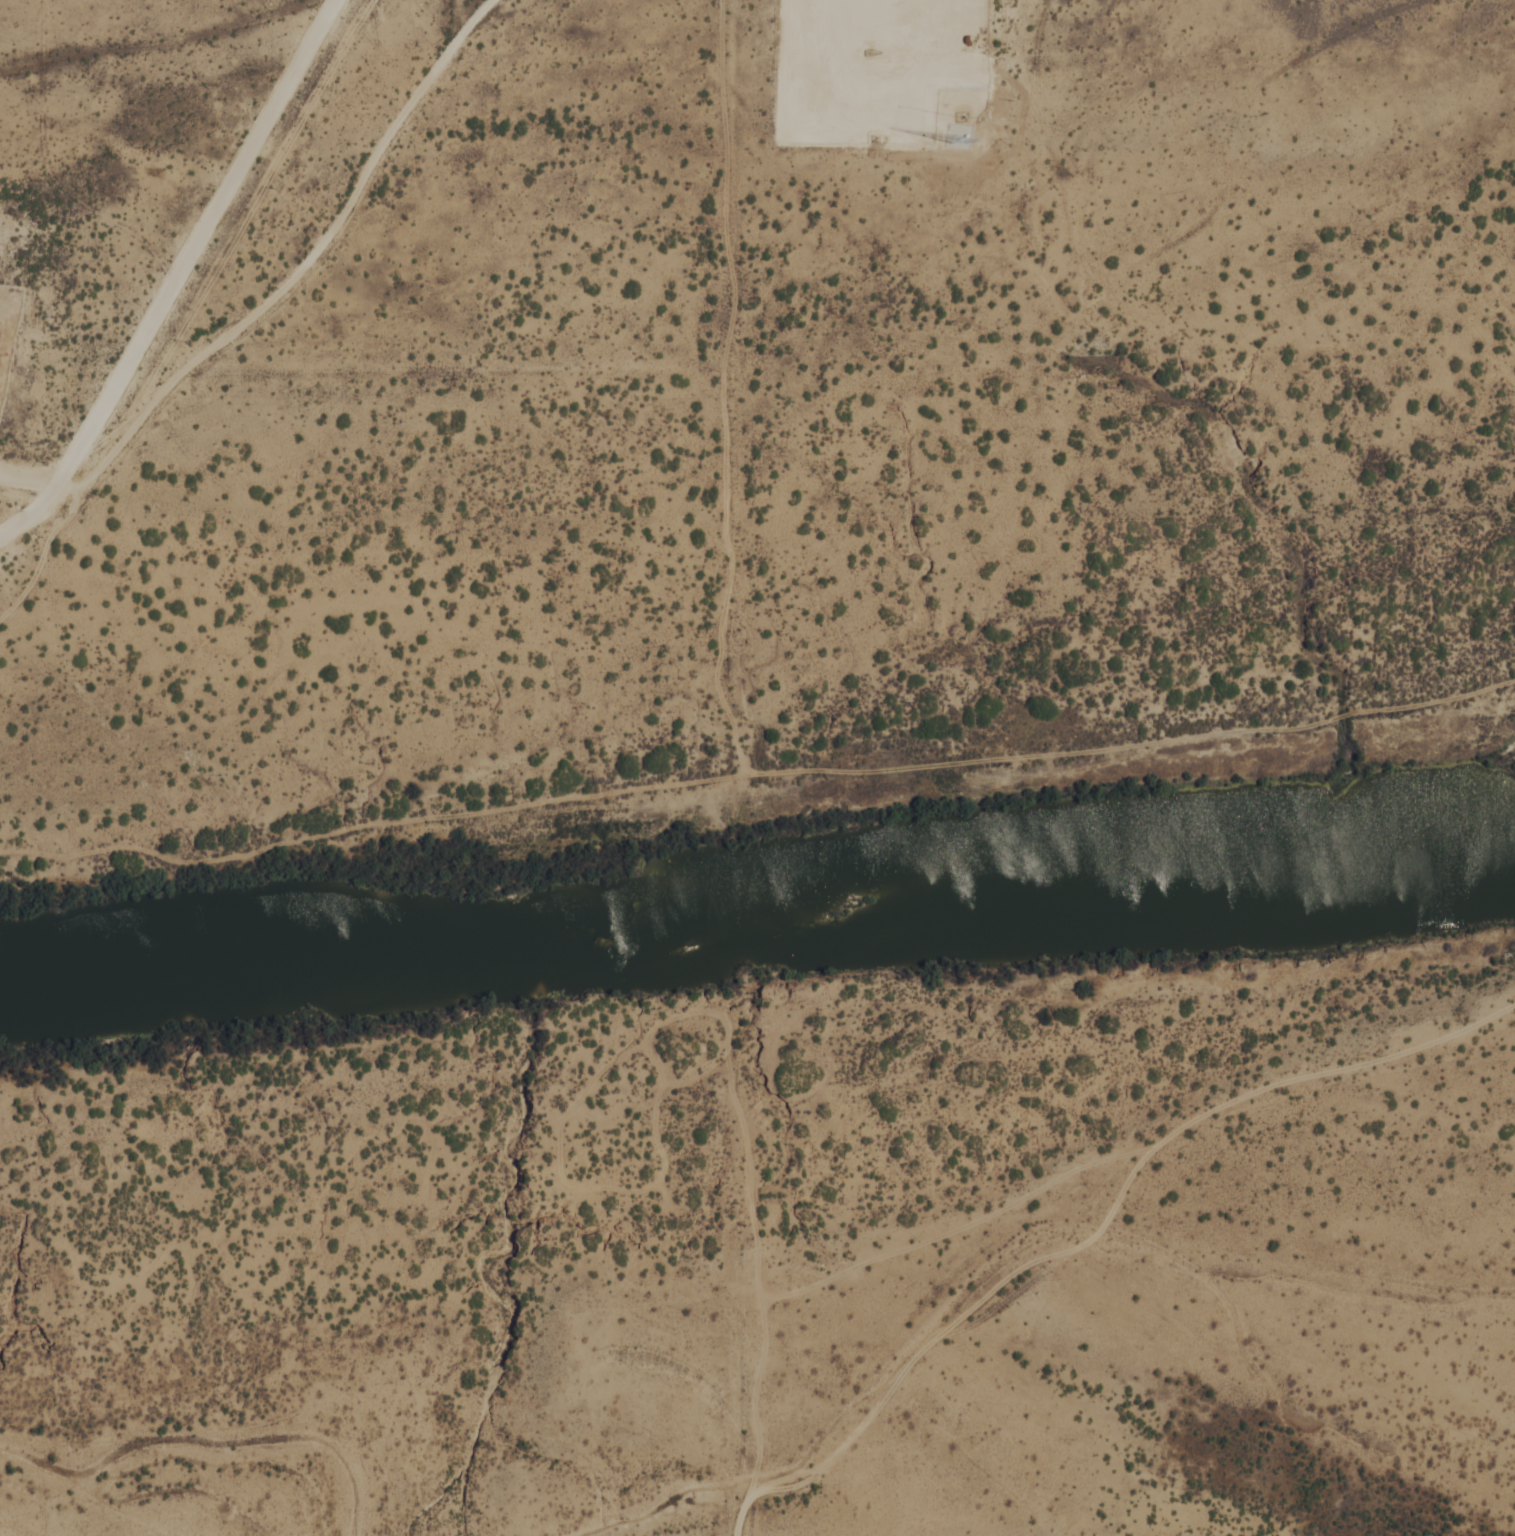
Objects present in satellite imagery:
road: (251, 316)
road: (724, 388)
road: (41, 487)
road: (755, 774)
river: (756, 905)
road: (1138, 1153)
road: (760, 1301)
road: (940, 1339)

